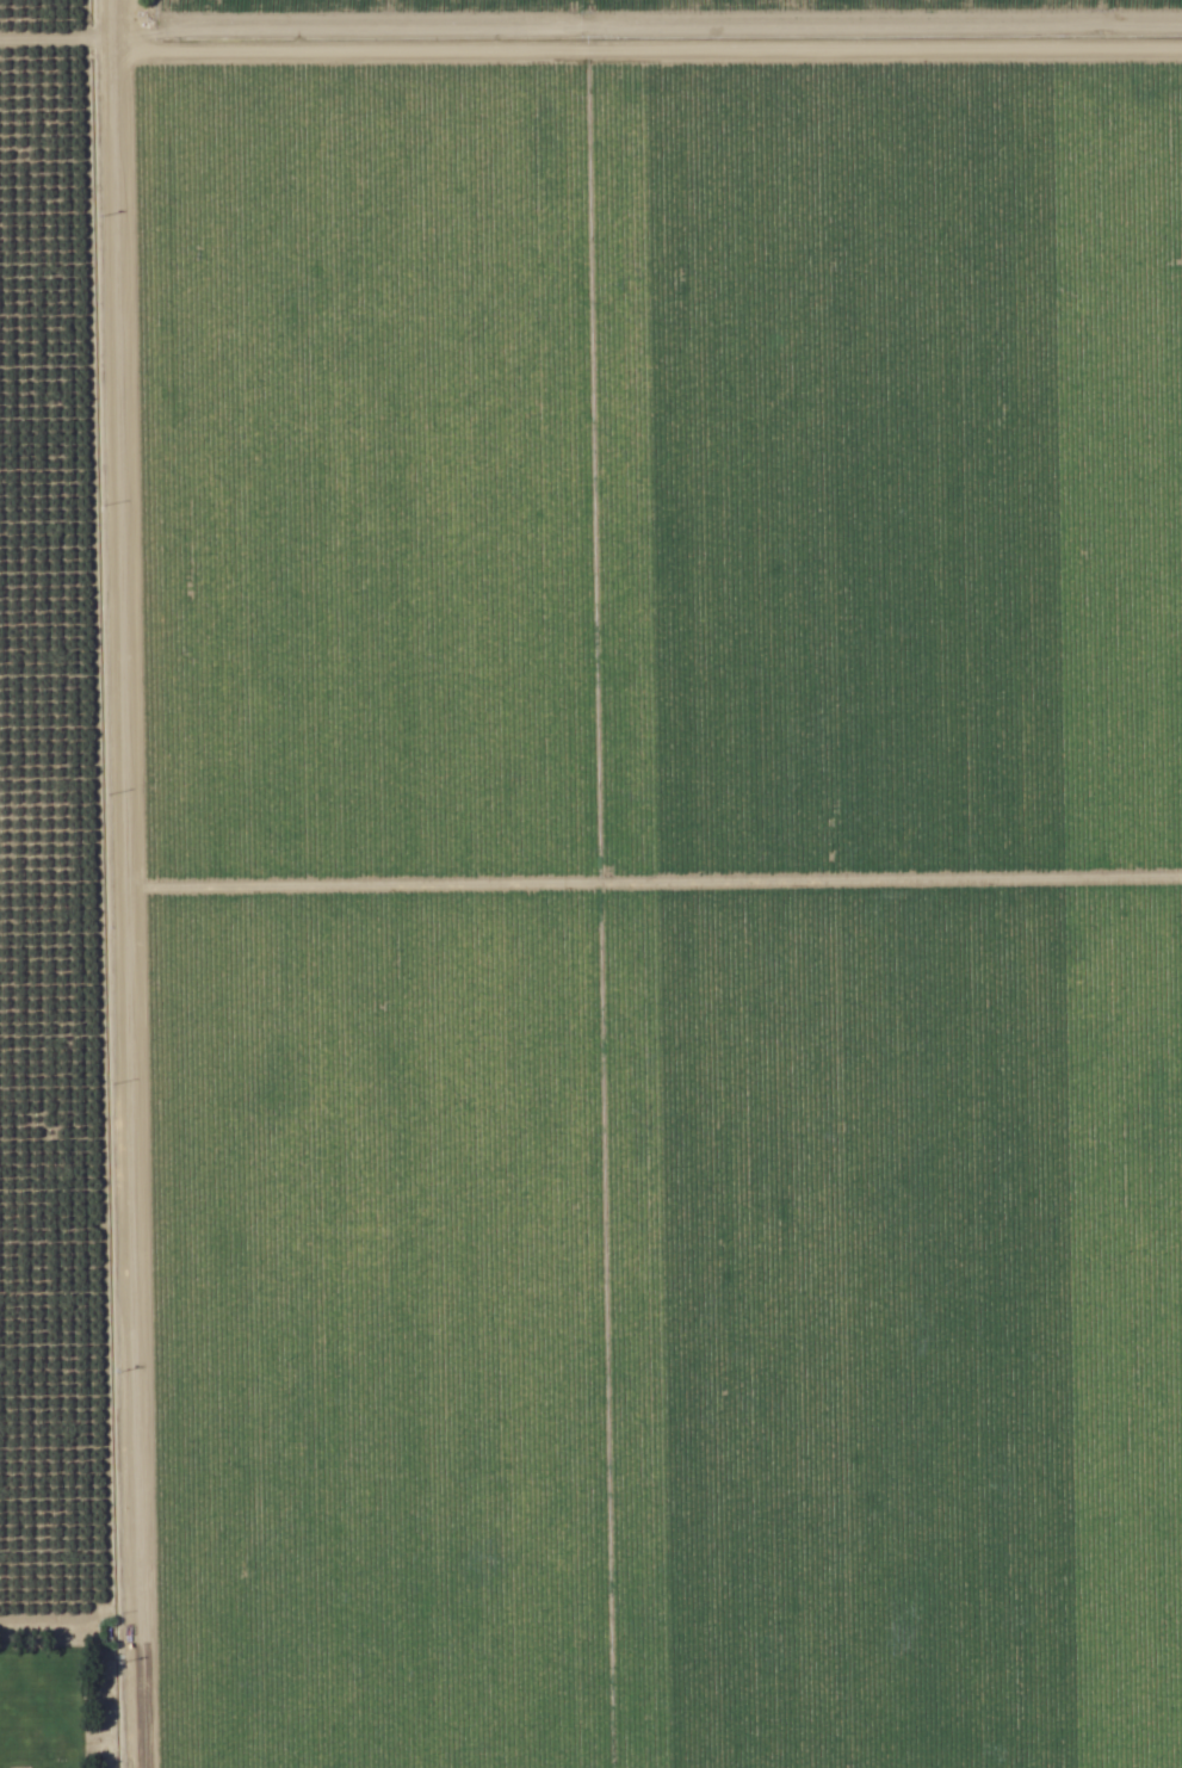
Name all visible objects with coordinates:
crop: (617, 29)
road: (104, 883)
crop: (632, 908)

